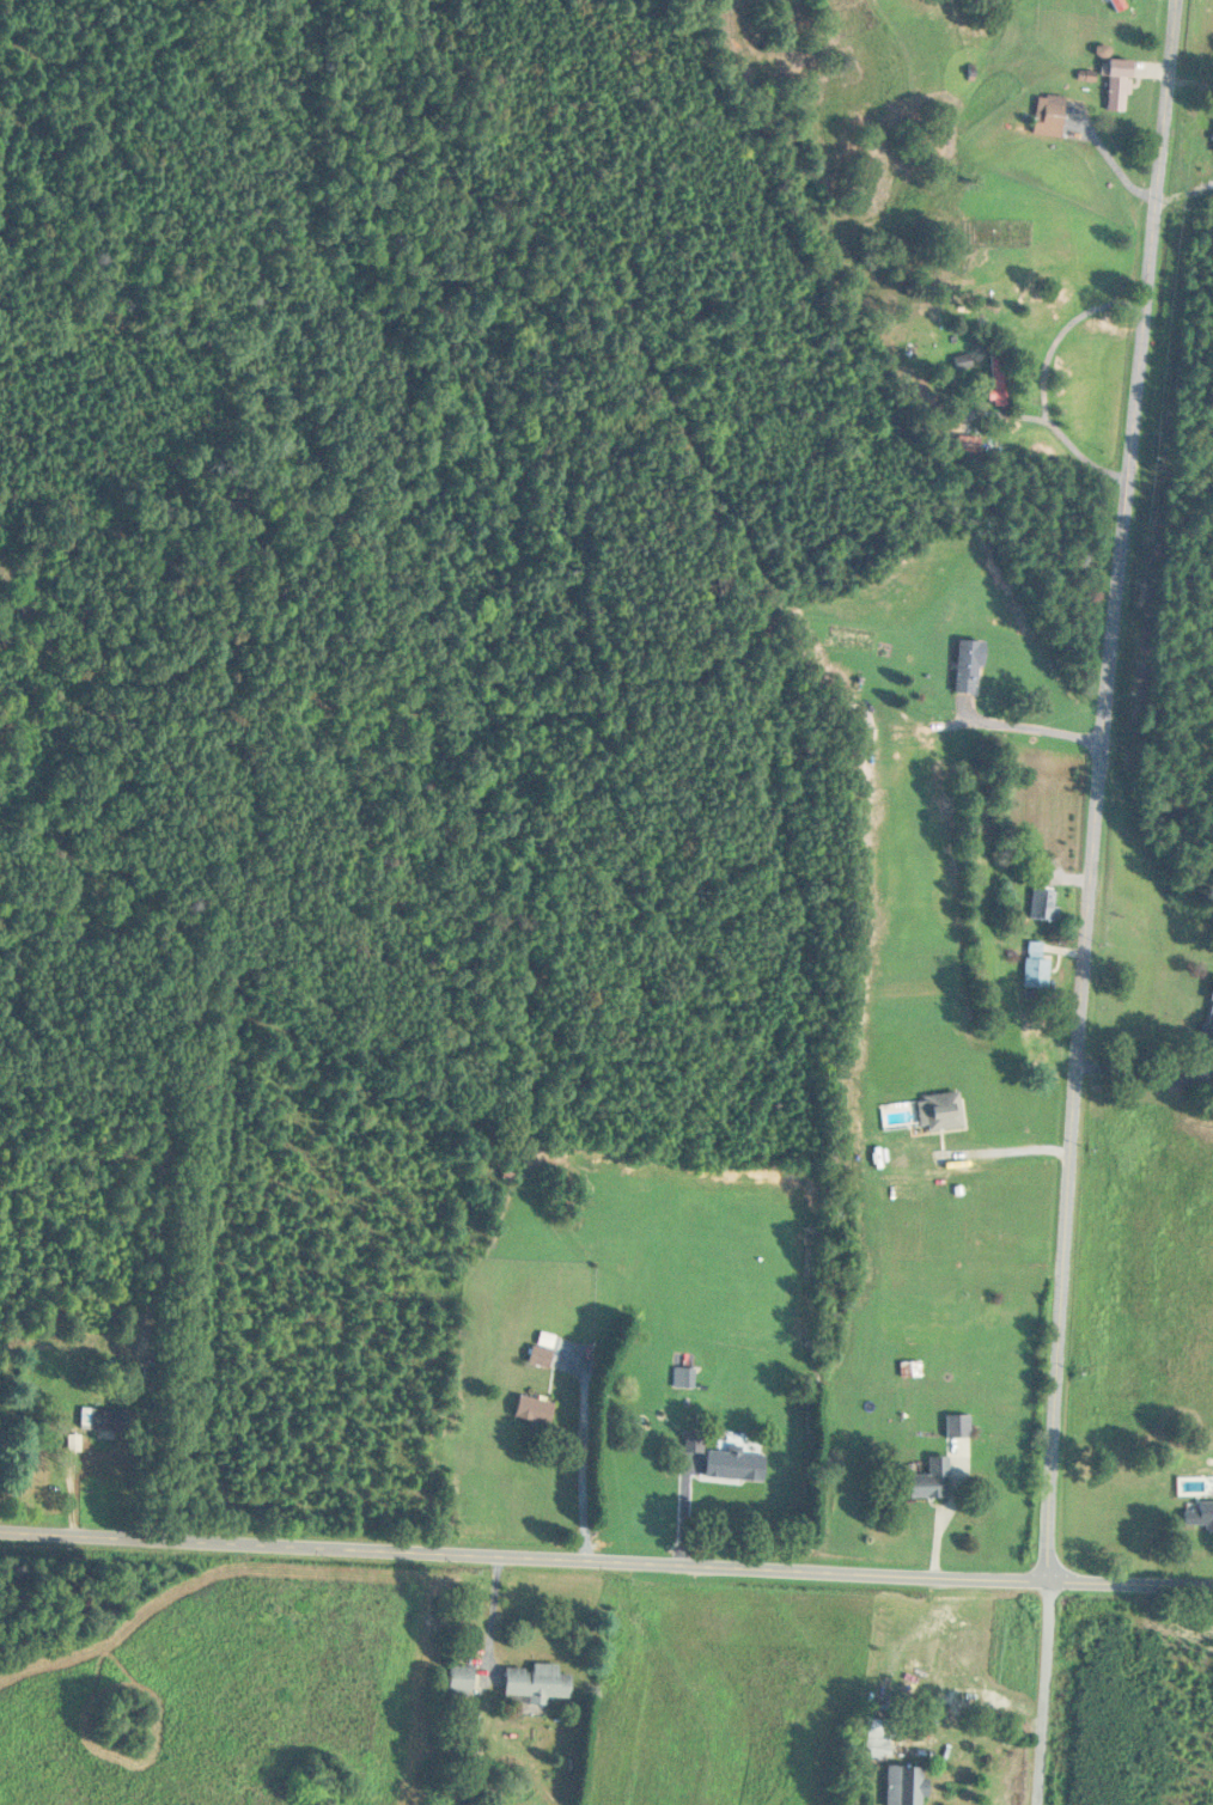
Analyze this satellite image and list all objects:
road: (1046, 378)
building: (1000, 379)
building: (969, 666)
road: (1034, 727)
road: (1098, 803)
building: (1047, 904)
building: (1038, 966)
building: (1208, 1025)
building: (921, 1114)
building: (541, 1356)
building: (909, 1370)
building: (684, 1378)
building: (534, 1410)
building: (97, 1420)
building: (736, 1465)
building: (928, 1482)
building: (1200, 1517)
road: (606, 1556)
building: (461, 1681)
building: (537, 1683)
road: (1043, 1707)
building: (878, 1738)
building: (904, 1785)

